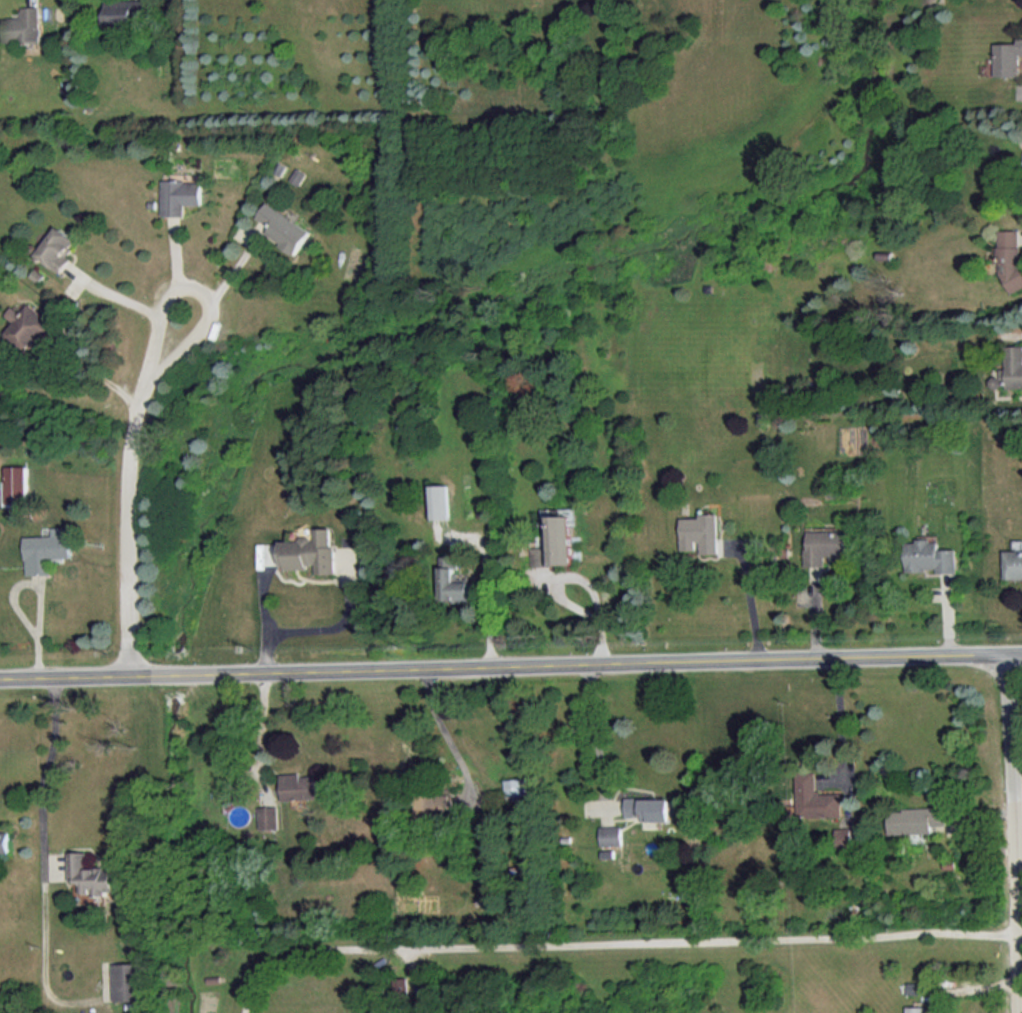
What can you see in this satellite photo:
building: (128, 11)
building: (24, 25)
building: (1009, 58)
building: (180, 195)
building: (284, 228)
building: (57, 248)
building: (1012, 258)
road: (222, 282)
road: (127, 300)
building: (30, 326)
building: (1010, 369)
building: (18, 483)
road: (132, 490)
building: (443, 501)
building: (703, 532)
building: (558, 542)
building: (831, 546)
building: (49, 549)
building: (312, 551)
building: (933, 556)
building: (1014, 563)
building: (456, 581)
road: (751, 601)
road: (323, 626)
road: (511, 665)
road: (843, 719)
road: (441, 728)
road: (264, 730)
road: (600, 736)
road: (47, 774)
building: (300, 786)
building: (515, 788)
building: (818, 797)
building: (650, 807)
building: (269, 816)
building: (918, 819)
road: (1015, 832)
building: (612, 834)
building: (845, 836)
building: (5, 840)
building: (91, 875)
road: (614, 941)
road: (1020, 959)
building: (129, 981)
building: (916, 987)
building: (917, 1009)

